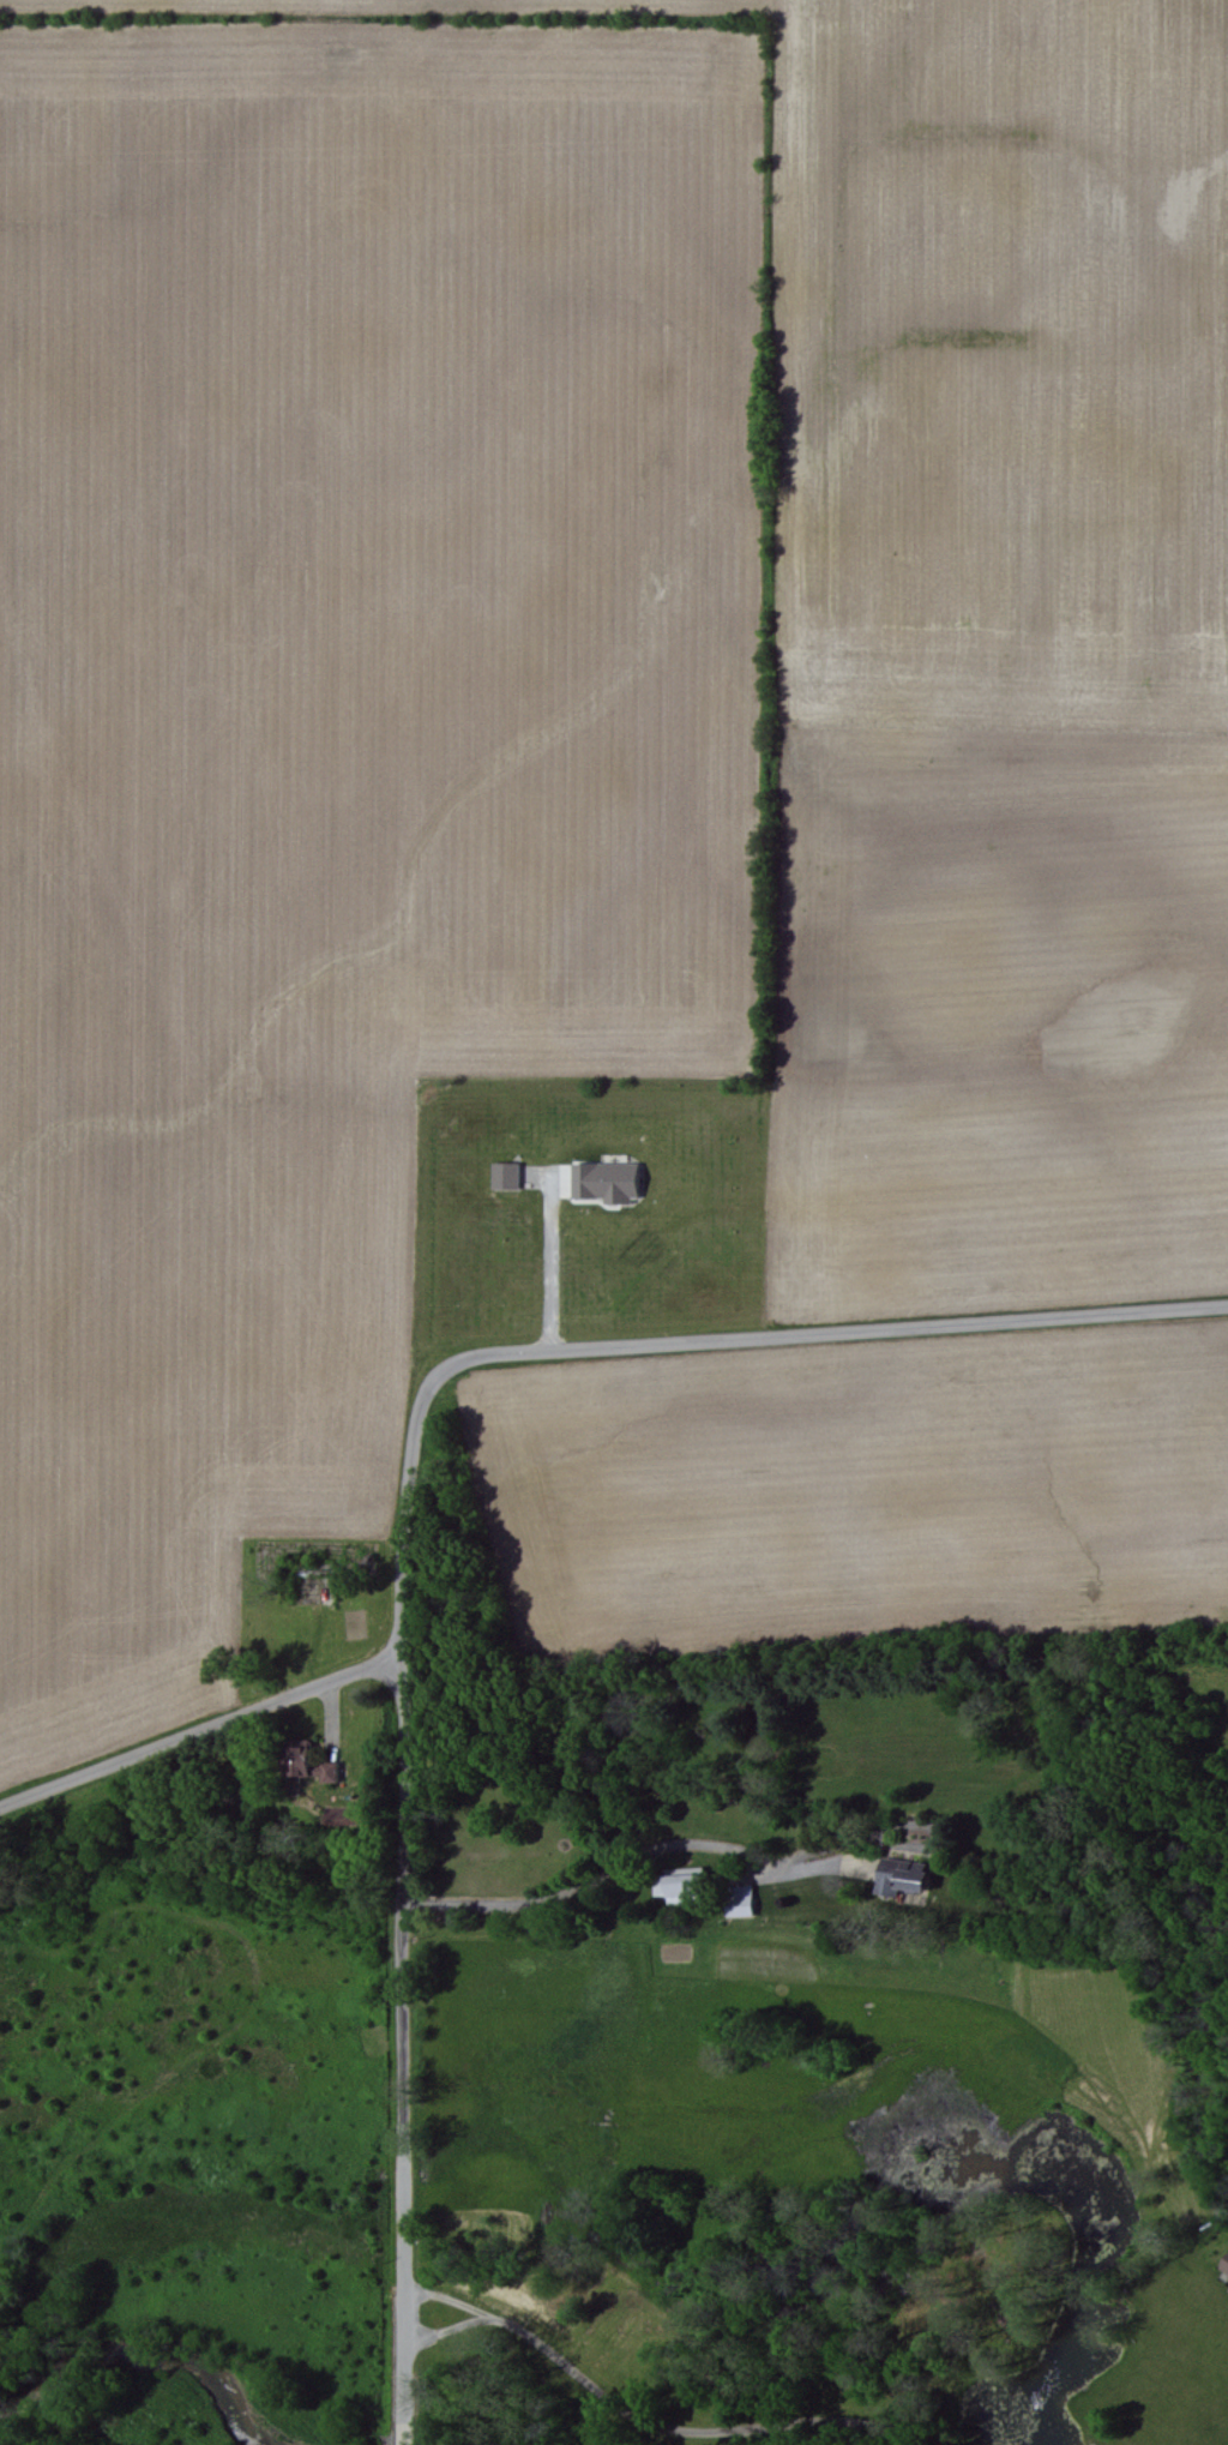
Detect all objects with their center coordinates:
building: (502, 1177)
building: (603, 1182)
road: (546, 1268)
road: (688, 1342)
road: (200, 1730)
road: (632, 1858)
building: (897, 1876)
building: (673, 1885)
building: (736, 1900)
road: (402, 2050)
building: (1224, 2264)
building: (1227, 2290)
road: (447, 2297)
road: (640, 2410)

